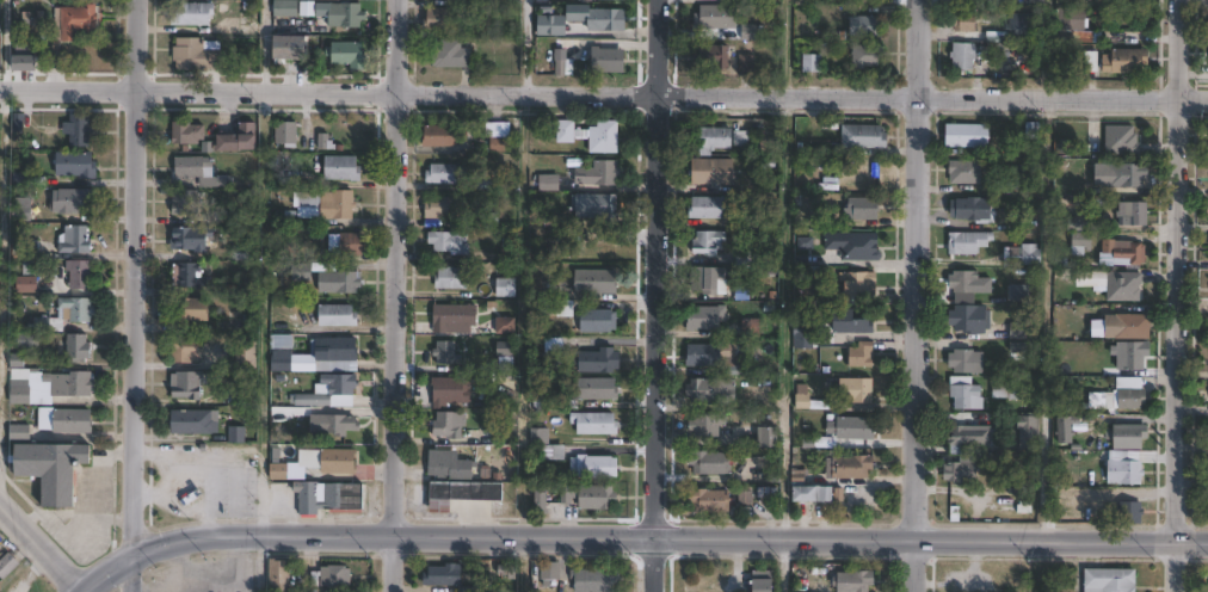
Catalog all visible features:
building: (614, 0)
building: (1128, 0)
building: (286, 7)
building: (578, 13)
building: (192, 14)
building: (345, 16)
building: (717, 18)
building: (439, 19)
building: (608, 19)
building: (1068, 20)
building: (75, 23)
building: (960, 23)
building: (1018, 25)
building: (868, 26)
building: (291, 48)
road: (1048, 49)
building: (198, 54)
building: (452, 54)
building: (349, 55)
building: (713, 56)
building: (959, 56)
building: (56, 57)
building: (869, 57)
building: (25, 58)
building: (610, 61)
building: (812, 62)
building: (1121, 62)
building: (561, 63)
building: (748, 66)
road: (604, 95)
building: (79, 129)
building: (189, 131)
building: (567, 131)
building: (288, 135)
building: (964, 135)
building: (445, 137)
building: (500, 137)
building: (603, 137)
building: (865, 137)
building: (1120, 138)
building: (721, 140)
building: (240, 141)
building: (775, 141)
building: (323, 142)
building: (76, 164)
building: (344, 168)
building: (202, 171)
building: (961, 171)
building: (1121, 173)
building: (449, 174)
building: (599, 174)
building: (714, 174)
building: (29, 179)
building: (550, 184)
building: (75, 199)
building: (197, 202)
building: (339, 205)
building: (597, 206)
building: (709, 206)
building: (446, 209)
building: (863, 209)
building: (969, 209)
building: (23, 211)
building: (1130, 211)
building: (229, 217)
building: (819, 218)
building: (548, 222)
building: (1077, 222)
building: (192, 238)
building: (76, 239)
building: (711, 241)
building: (964, 241)
building: (451, 242)
building: (1078, 242)
building: (350, 245)
building: (855, 245)
building: (29, 247)
building: (512, 249)
building: (1121, 251)
building: (1027, 254)
building: (747, 257)
road: (523, 266)
road: (1173, 270)
building: (81, 272)
building: (809, 272)
building: (302, 273)
building: (190, 275)
building: (452, 277)
building: (710, 278)
building: (961, 278)
building: (598, 280)
building: (340, 282)
building: (861, 284)
building: (1118, 284)
building: (507, 286)
building: (249, 289)
building: (1016, 292)
road: (132, 295)
road: (654, 295)
road: (912, 295)
road: (394, 296)
road: (2, 298)
building: (559, 308)
building: (192, 309)
building: (68, 314)
building: (339, 315)
building: (708, 316)
building: (966, 316)
building: (455, 317)
building: (600, 320)
building: (855, 321)
building: (242, 323)
building: (506, 323)
building: (1126, 323)
building: (752, 327)
building: (805, 333)
building: (29, 340)
building: (556, 344)
building: (78, 346)
building: (186, 347)
building: (283, 349)
building: (335, 349)
building: (1016, 351)
building: (449, 352)
building: (1130, 352)
building: (248, 353)
building: (863, 353)
building: (705, 354)
building: (597, 359)
building: (963, 359)
building: (70, 383)
building: (187, 383)
building: (451, 389)
building: (858, 389)
building: (1009, 389)
building: (21, 390)
building: (343, 390)
building: (715, 390)
building: (963, 391)
building: (1128, 391)
building: (584, 393)
building: (812, 400)
building: (1091, 402)
building: (73, 420)
building: (196, 421)
building: (597, 421)
building: (335, 423)
building: (450, 424)
building: (709, 425)
building: (1024, 425)
building: (857, 427)
building: (1064, 427)
building: (20, 430)
building: (236, 433)
building: (1126, 433)
building: (540, 434)
building: (968, 434)
building: (770, 436)
building: (555, 451)
building: (340, 460)
building: (710, 462)
building: (450, 464)
building: (596, 465)
building: (857, 465)
building: (53, 468)
building: (1123, 469)
building: (279, 470)
building: (759, 470)
building: (956, 470)
building: (466, 492)
building: (820, 493)
building: (333, 495)
building: (591, 495)
building: (308, 497)
building: (711, 499)
building: (543, 501)
building: (1128, 510)
road: (618, 535)
road: (1190, 541)
building: (1, 547)
road: (39, 547)
building: (7, 565)
road: (1171, 566)
building: (551, 569)
building: (281, 574)
building: (458, 574)
building: (332, 576)
building: (597, 580)
building: (856, 580)
building: (1105, 580)
building: (765, 585)
road: (81, 591)

